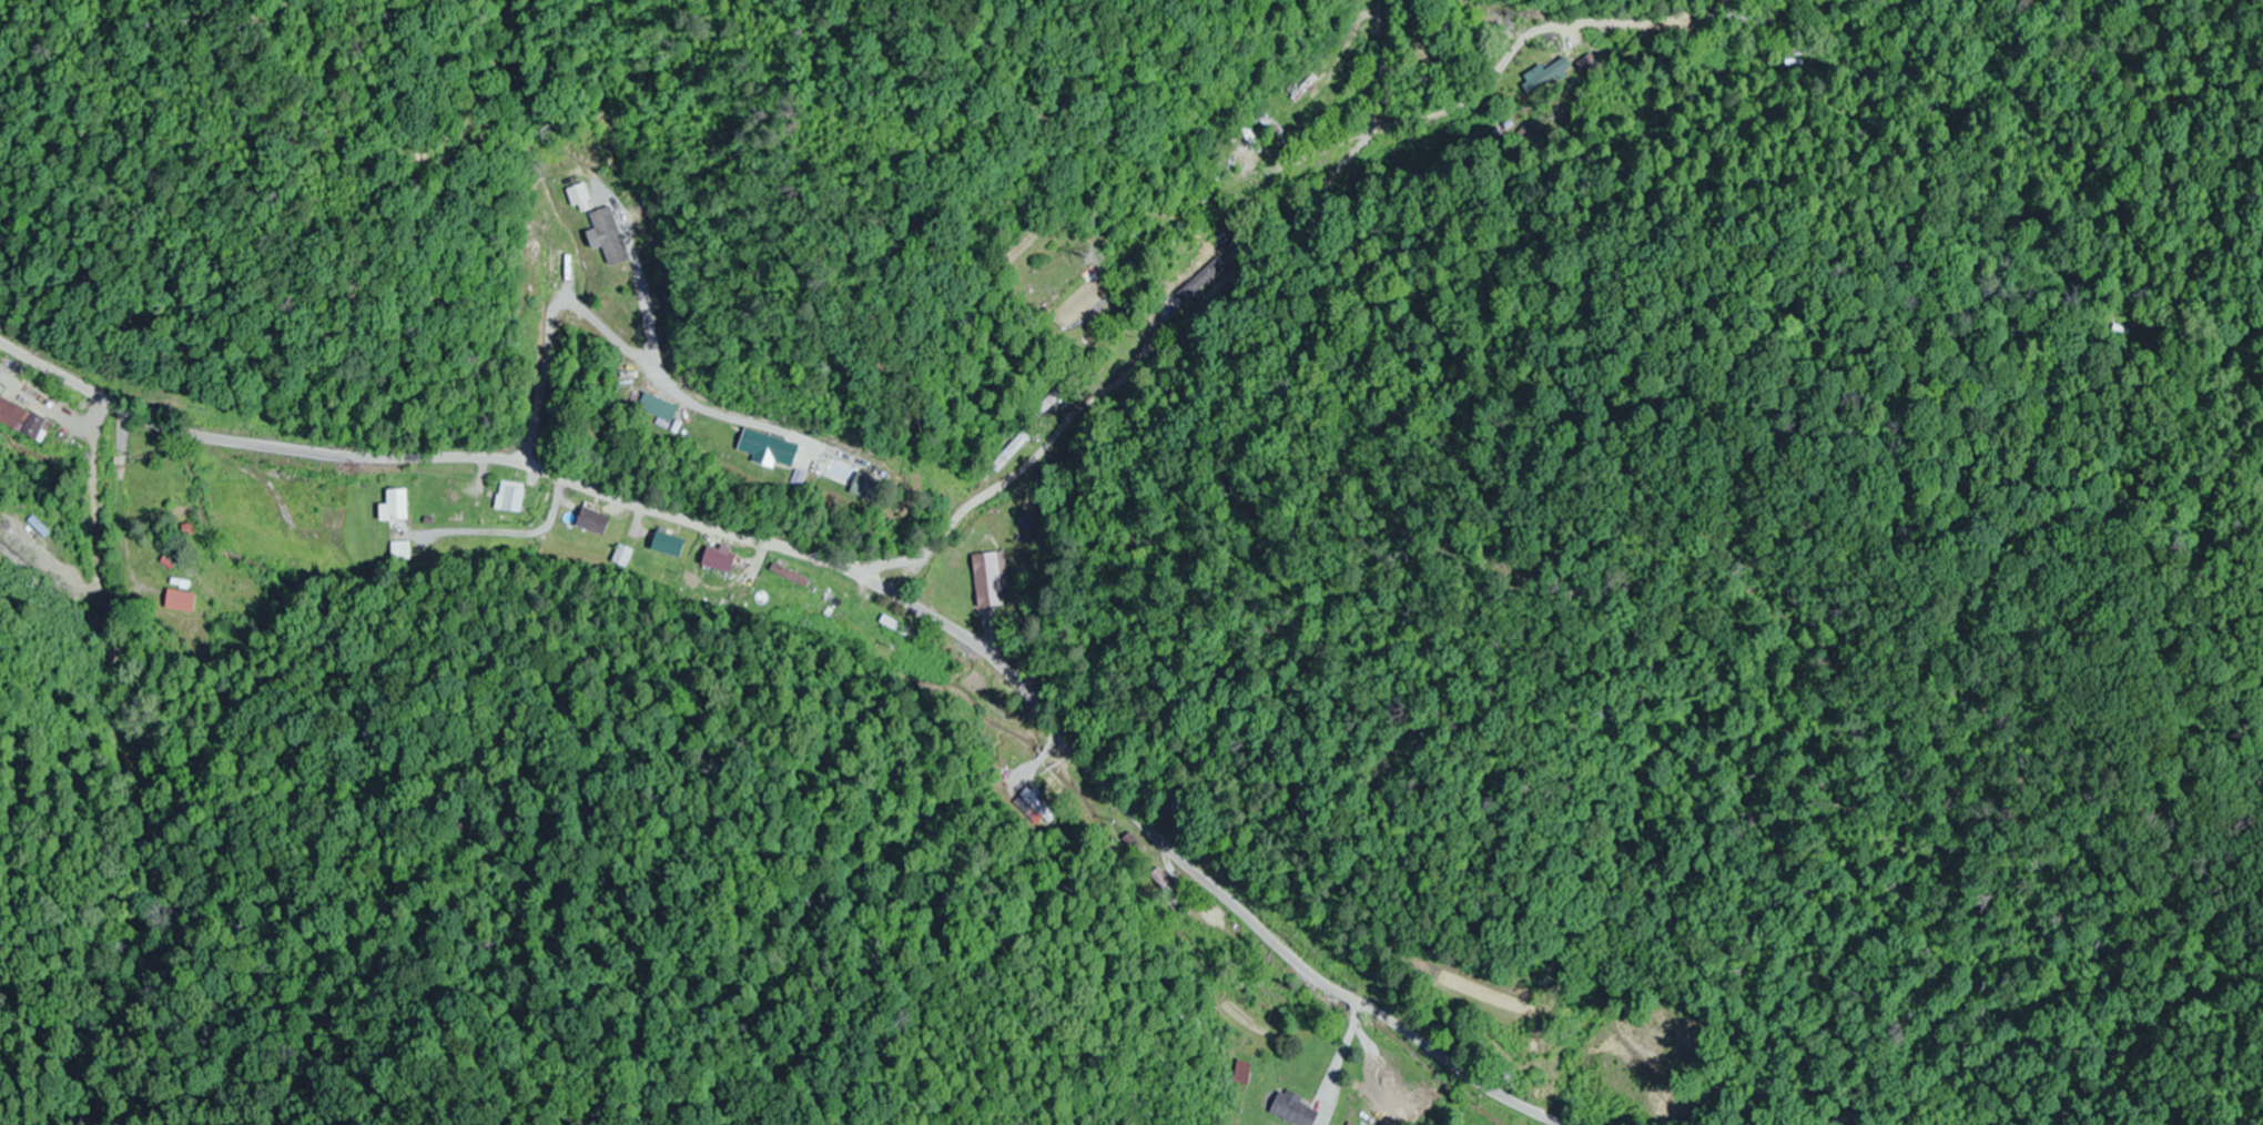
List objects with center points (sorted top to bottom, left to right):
building: (1726, 20)
road: (1372, 63)
building: (1545, 77)
building: (1271, 125)
building: (1229, 168)
building: (609, 236)
road: (1250, 256)
building: (556, 268)
building: (0, 388)
building: (1052, 403)
building: (654, 406)
building: (23, 420)
building: (767, 450)
building: (862, 487)
building: (150, 489)
building: (510, 497)
building: (396, 505)
building: (592, 521)
building: (668, 545)
building: (402, 551)
building: (623, 557)
building: (719, 560)
road: (857, 575)
building: (987, 581)
building: (1039, 805)
building: (1167, 889)
building: (1244, 1074)
building: (1295, 1111)

